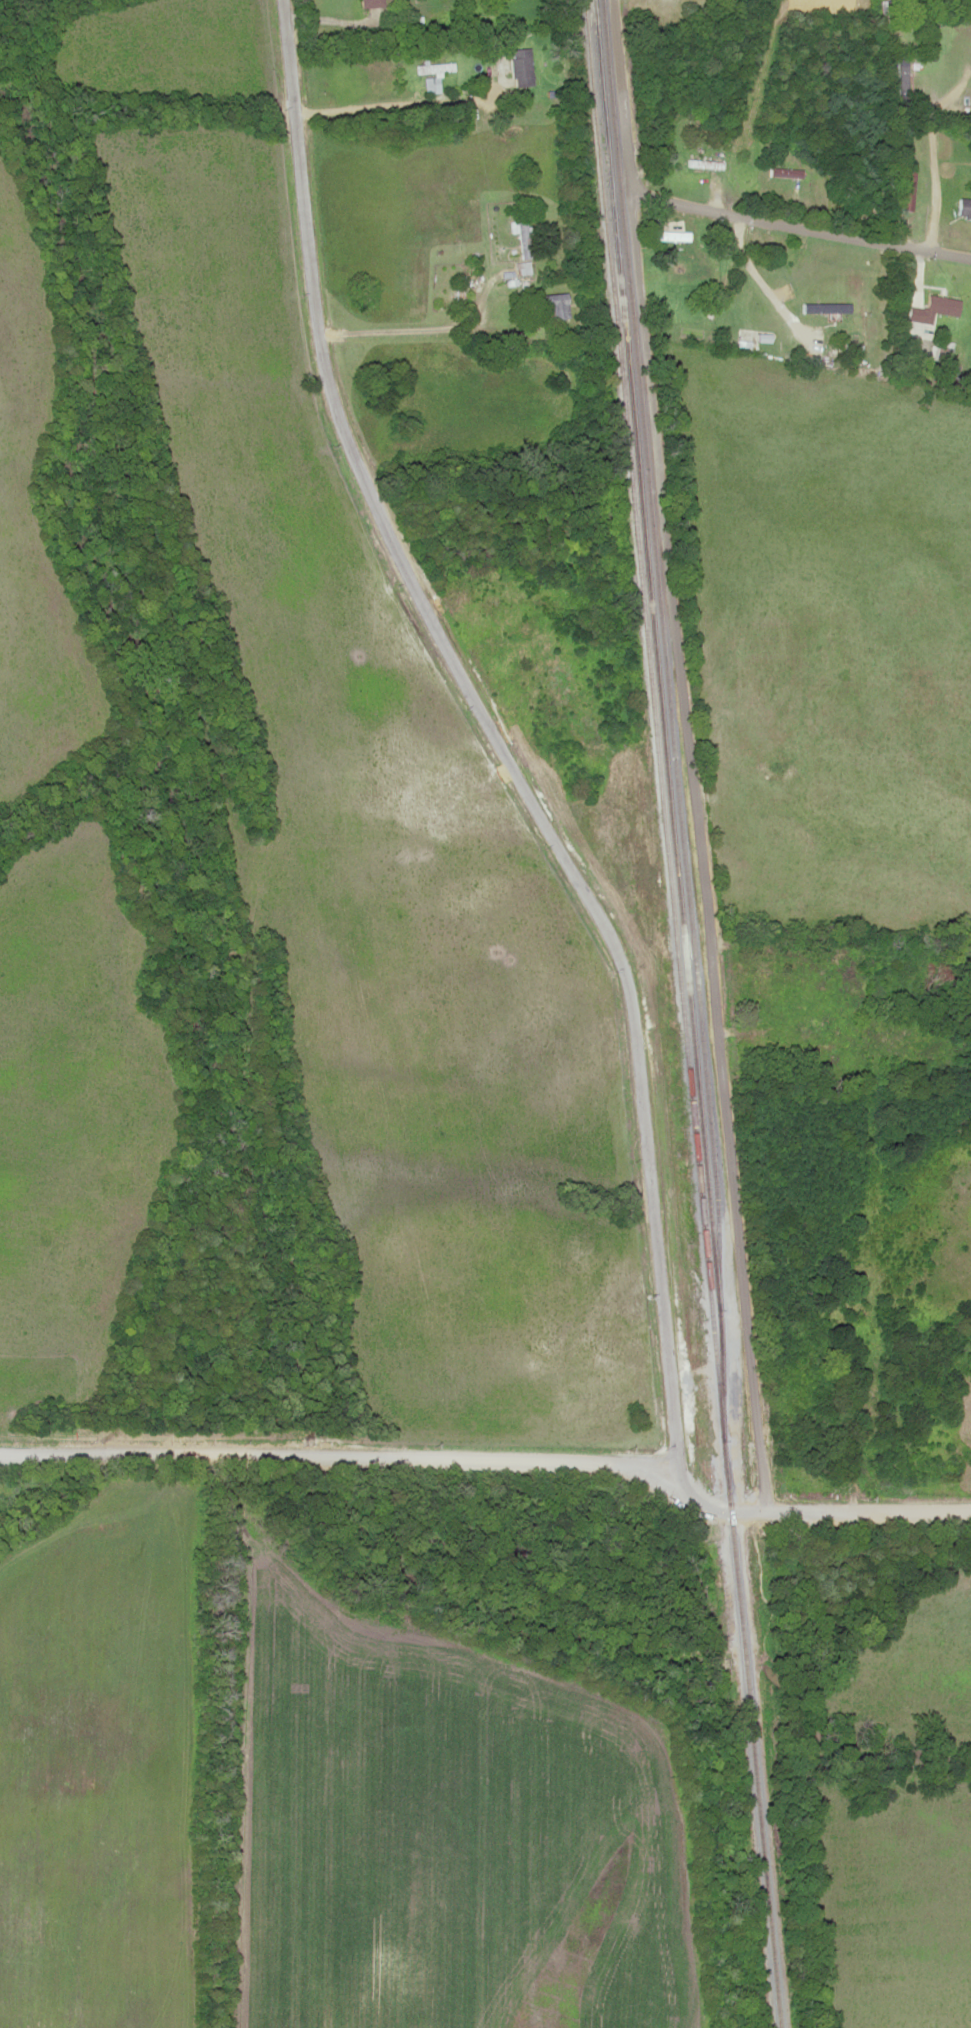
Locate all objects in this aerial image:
building: (370, 3)
road: (286, 37)
crop: (171, 44)
building: (521, 66)
building: (435, 67)
building: (908, 187)
building: (964, 208)
road: (800, 224)
building: (521, 235)
building: (772, 243)
building: (523, 268)
building: (459, 289)
building: (555, 305)
building: (938, 306)
crop: (32, 552)
railway: (672, 739)
road: (688, 755)
road: (510, 765)
crop: (387, 866)
railway: (683, 1013)
building: (809, 1028)
crop: (70, 1110)
road: (335, 1446)
road: (811, 1509)

